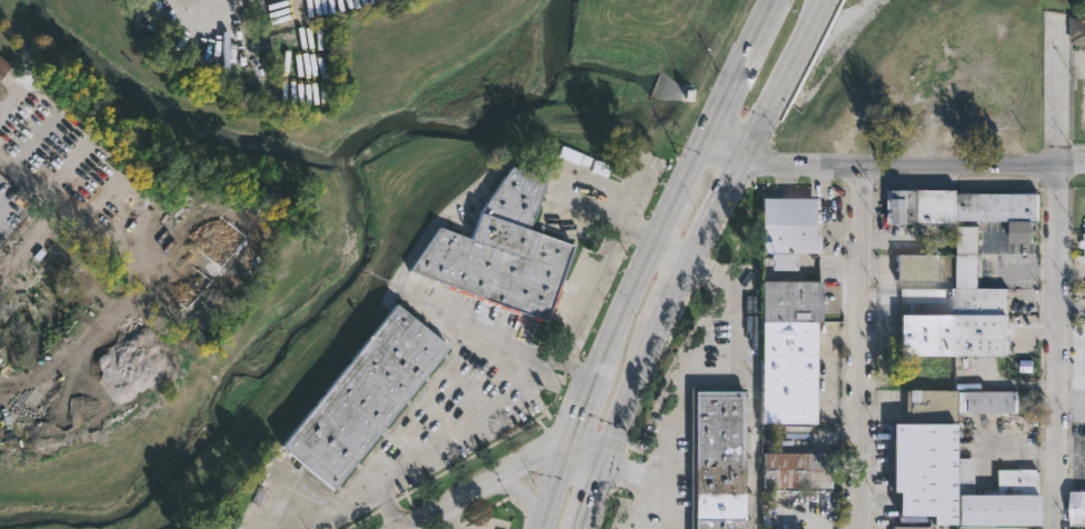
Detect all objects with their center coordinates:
road: (766, 6)
road: (213, 22)
building: (1077, 30)
building: (3, 68)
road: (734, 73)
road: (782, 79)
road: (1052, 94)
traffic signals: (705, 136)
road: (721, 147)
traffic signals: (738, 158)
road: (910, 164)
road: (690, 166)
road: (627, 191)
building: (923, 207)
road: (713, 210)
building: (1001, 211)
road: (2, 213)
road: (76, 218)
road: (664, 221)
building: (789, 226)
building: (968, 239)
building: (1083, 243)
building: (504, 251)
road: (669, 254)
building: (916, 268)
building: (967, 270)
road: (671, 292)
building: (979, 300)
road: (620, 311)
building: (953, 335)
road: (865, 347)
road: (1054, 348)
building: (788, 349)
road: (577, 370)
road: (687, 379)
road: (514, 392)
road: (627, 393)
building: (362, 397)
building: (985, 401)
building: (928, 406)
road: (578, 417)
road: (751, 420)
road: (1017, 445)
traffic signals: (564, 456)
building: (718, 459)
road: (581, 460)
traffic signals: (600, 466)
building: (793, 469)
building: (924, 471)
building: (964, 475)
road: (484, 483)
road: (668, 489)
road: (553, 491)
road: (527, 496)
road: (591, 497)
building: (1003, 501)
road: (338, 505)
road: (640, 505)
building: (1077, 508)
building: (230, 526)
building: (989, 527)
building: (909, 528)

